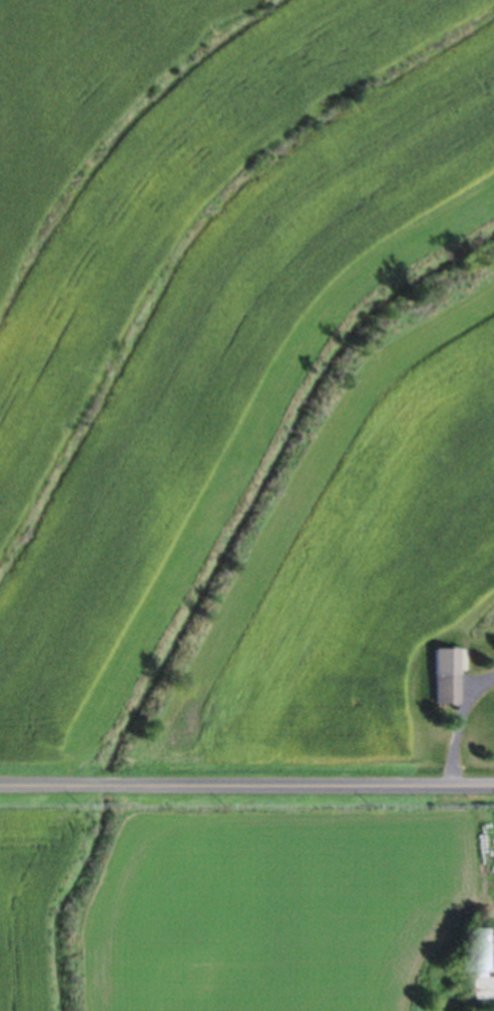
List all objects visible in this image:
building: (440, 675)
road: (453, 721)
road: (246, 789)
crop: (25, 894)
building: (480, 950)

